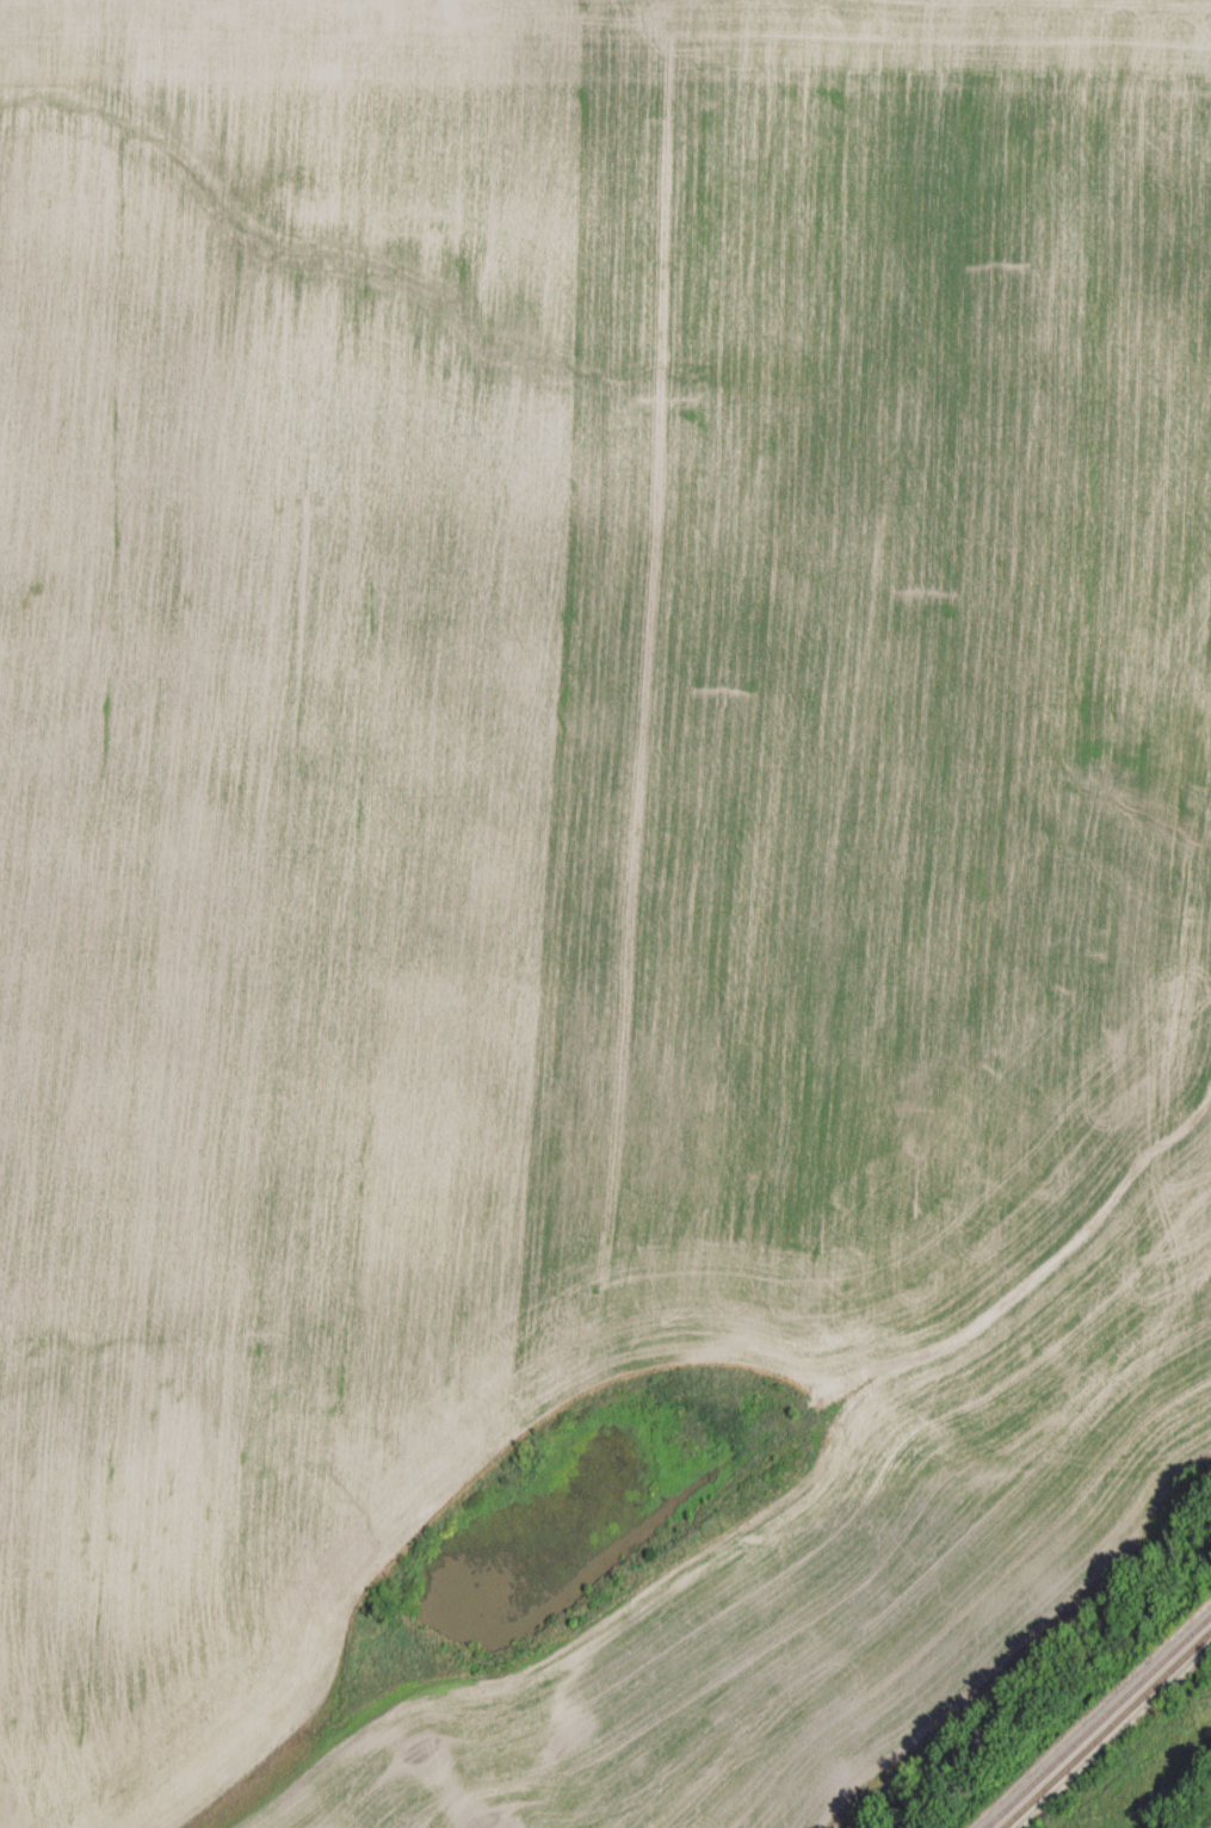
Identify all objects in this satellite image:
railway: (1100, 1723)
railway: (1107, 1729)

